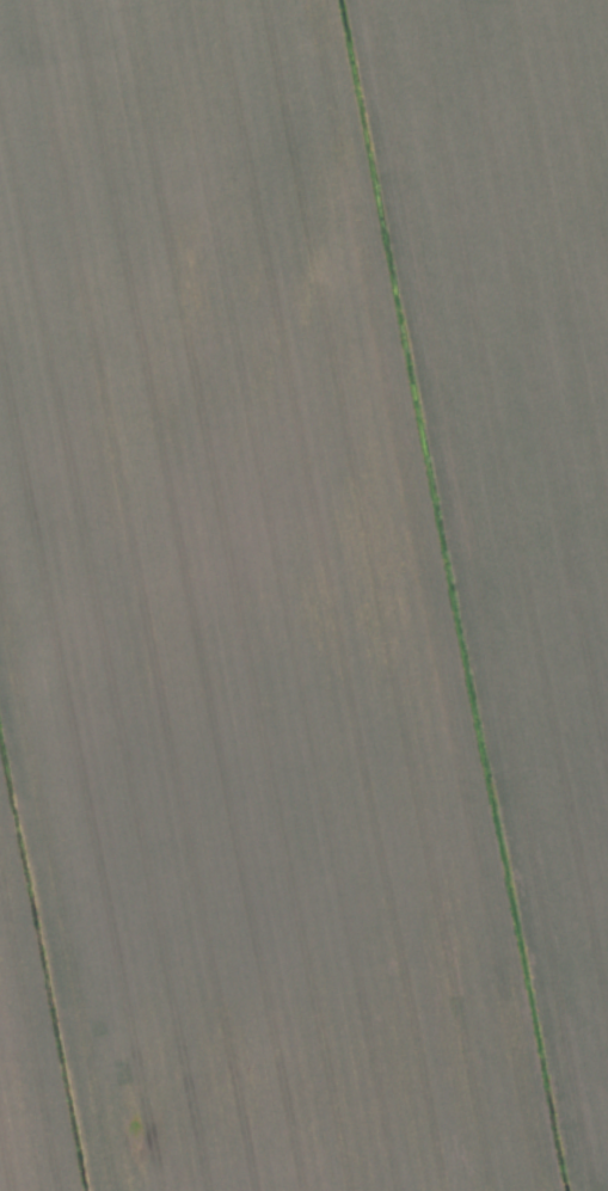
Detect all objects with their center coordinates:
crop: (303, 595)

